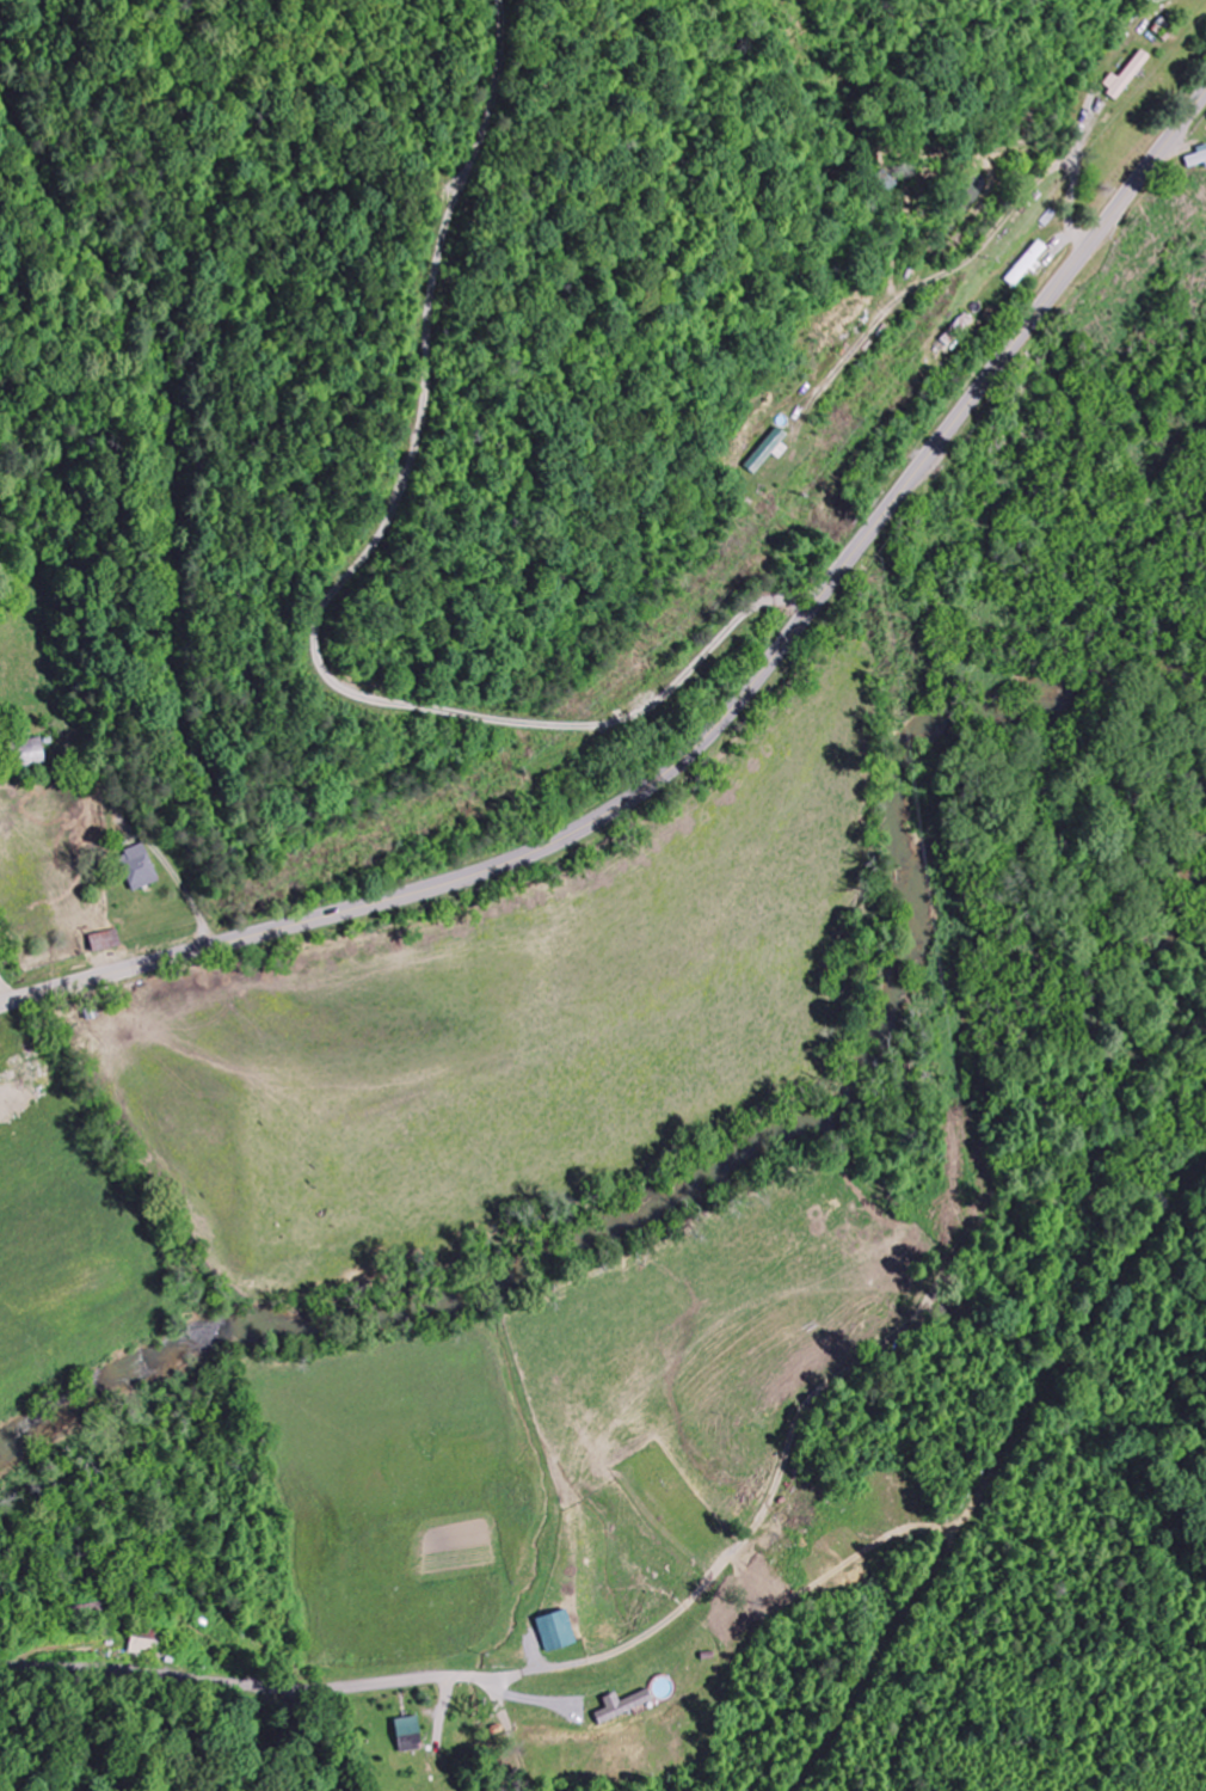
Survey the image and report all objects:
building: (1127, 76)
building: (1198, 160)
building: (1027, 265)
building: (960, 331)
building: (771, 452)
road: (720, 712)
building: (33, 753)
building: (141, 869)
park: (672, 1503)
road: (694, 1595)
building: (559, 1631)
building: (143, 1646)
building: (624, 1705)
building: (411, 1734)

